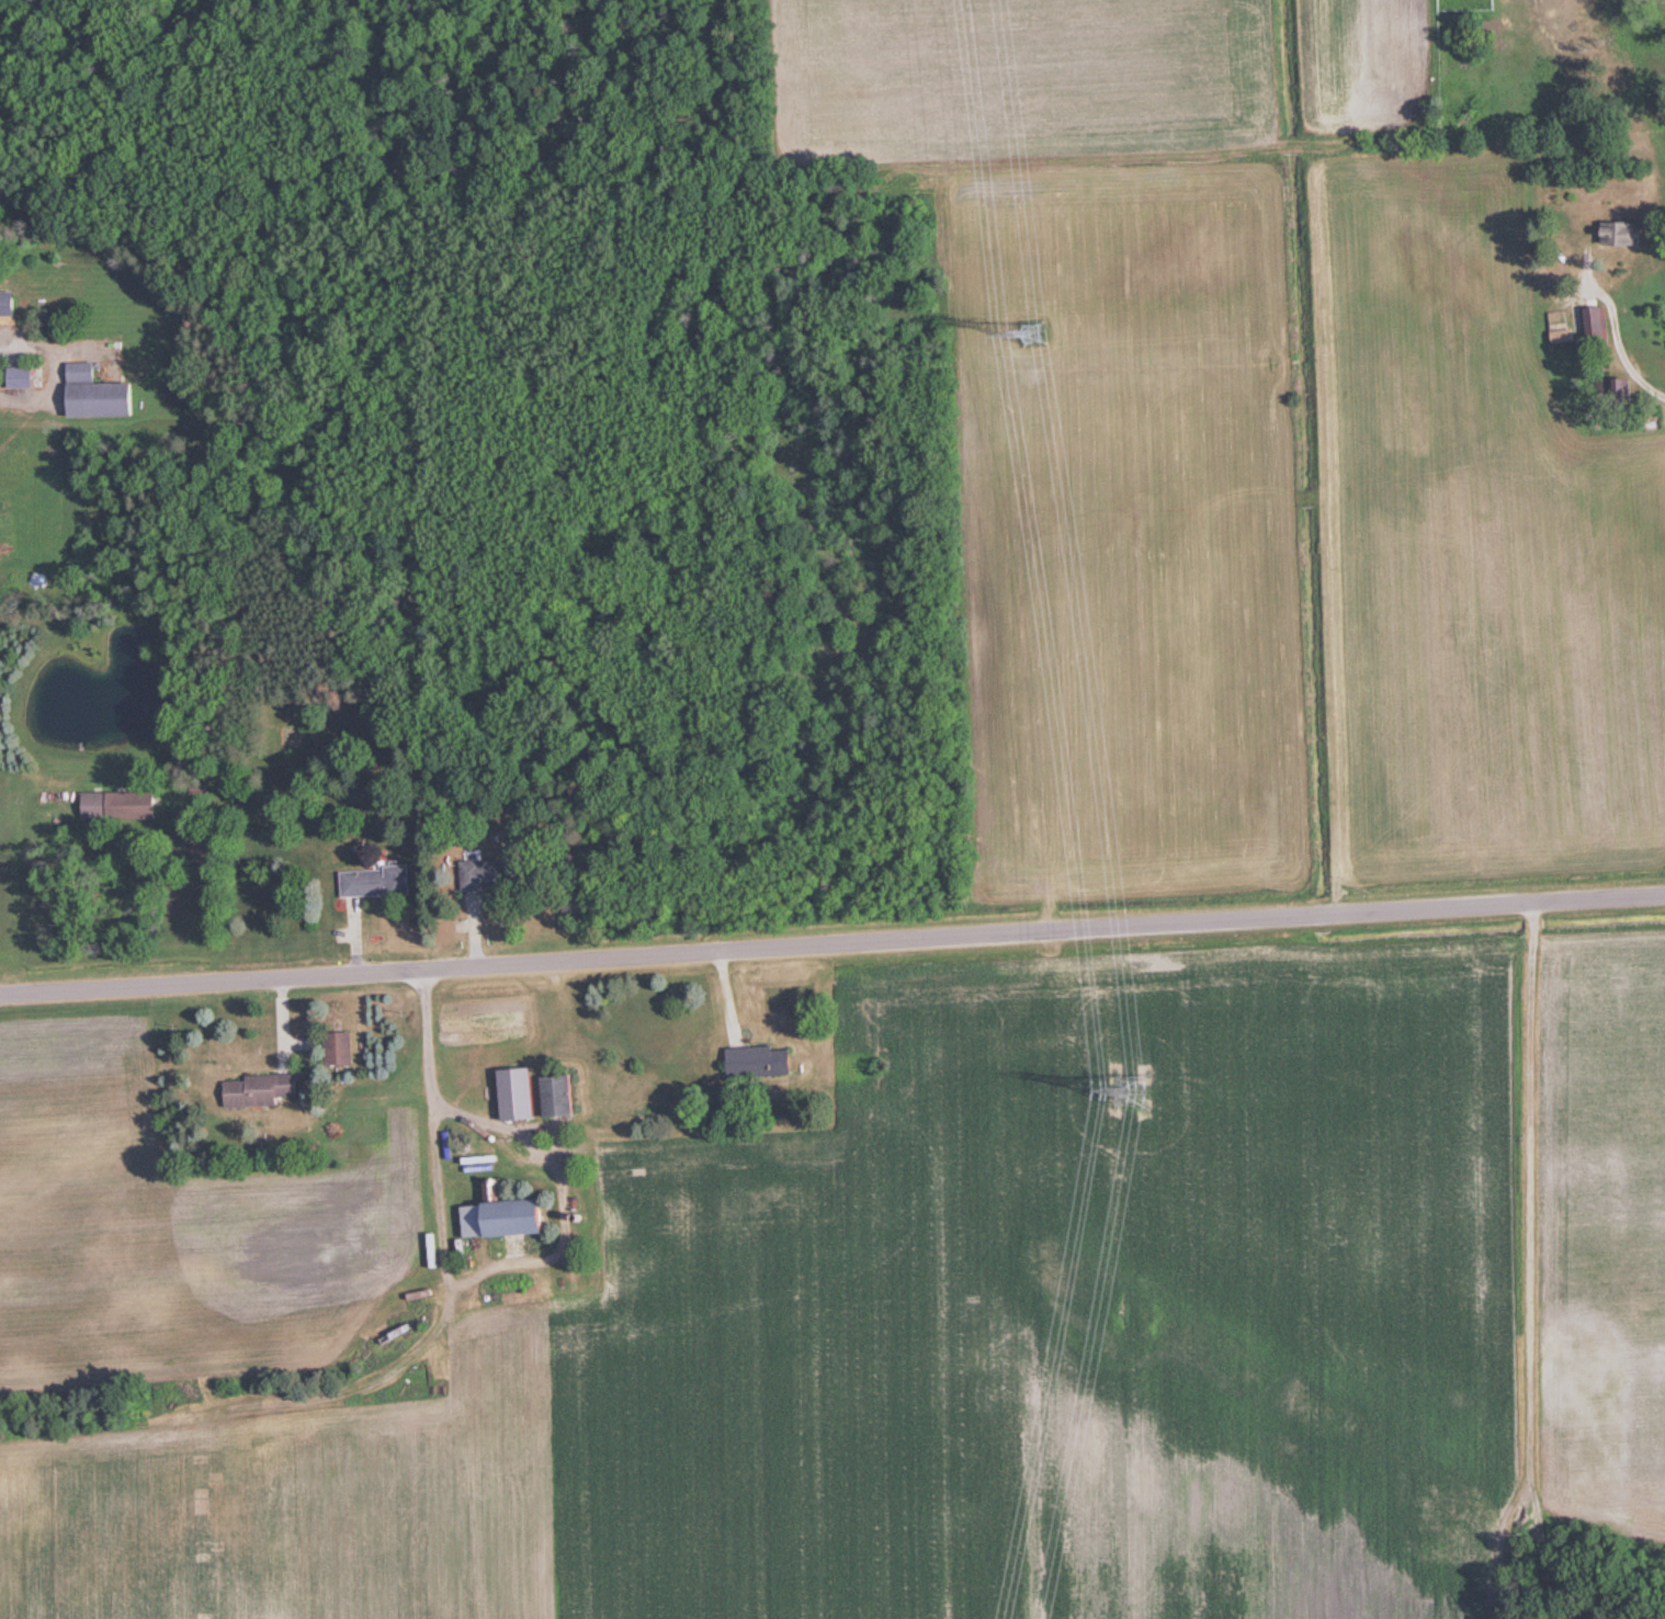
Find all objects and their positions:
building: (1623, 234)
building: (9, 305)
building: (1595, 321)
road: (1609, 330)
power tower: (1035, 337)
road: (54, 371)
building: (25, 376)
building: (100, 394)
building: (125, 805)
building: (486, 873)
building: (382, 882)
road: (831, 943)
building: (346, 1050)
building: (763, 1062)
building: (265, 1090)
power tower: (1134, 1091)
building: (563, 1094)
building: (513, 1216)

